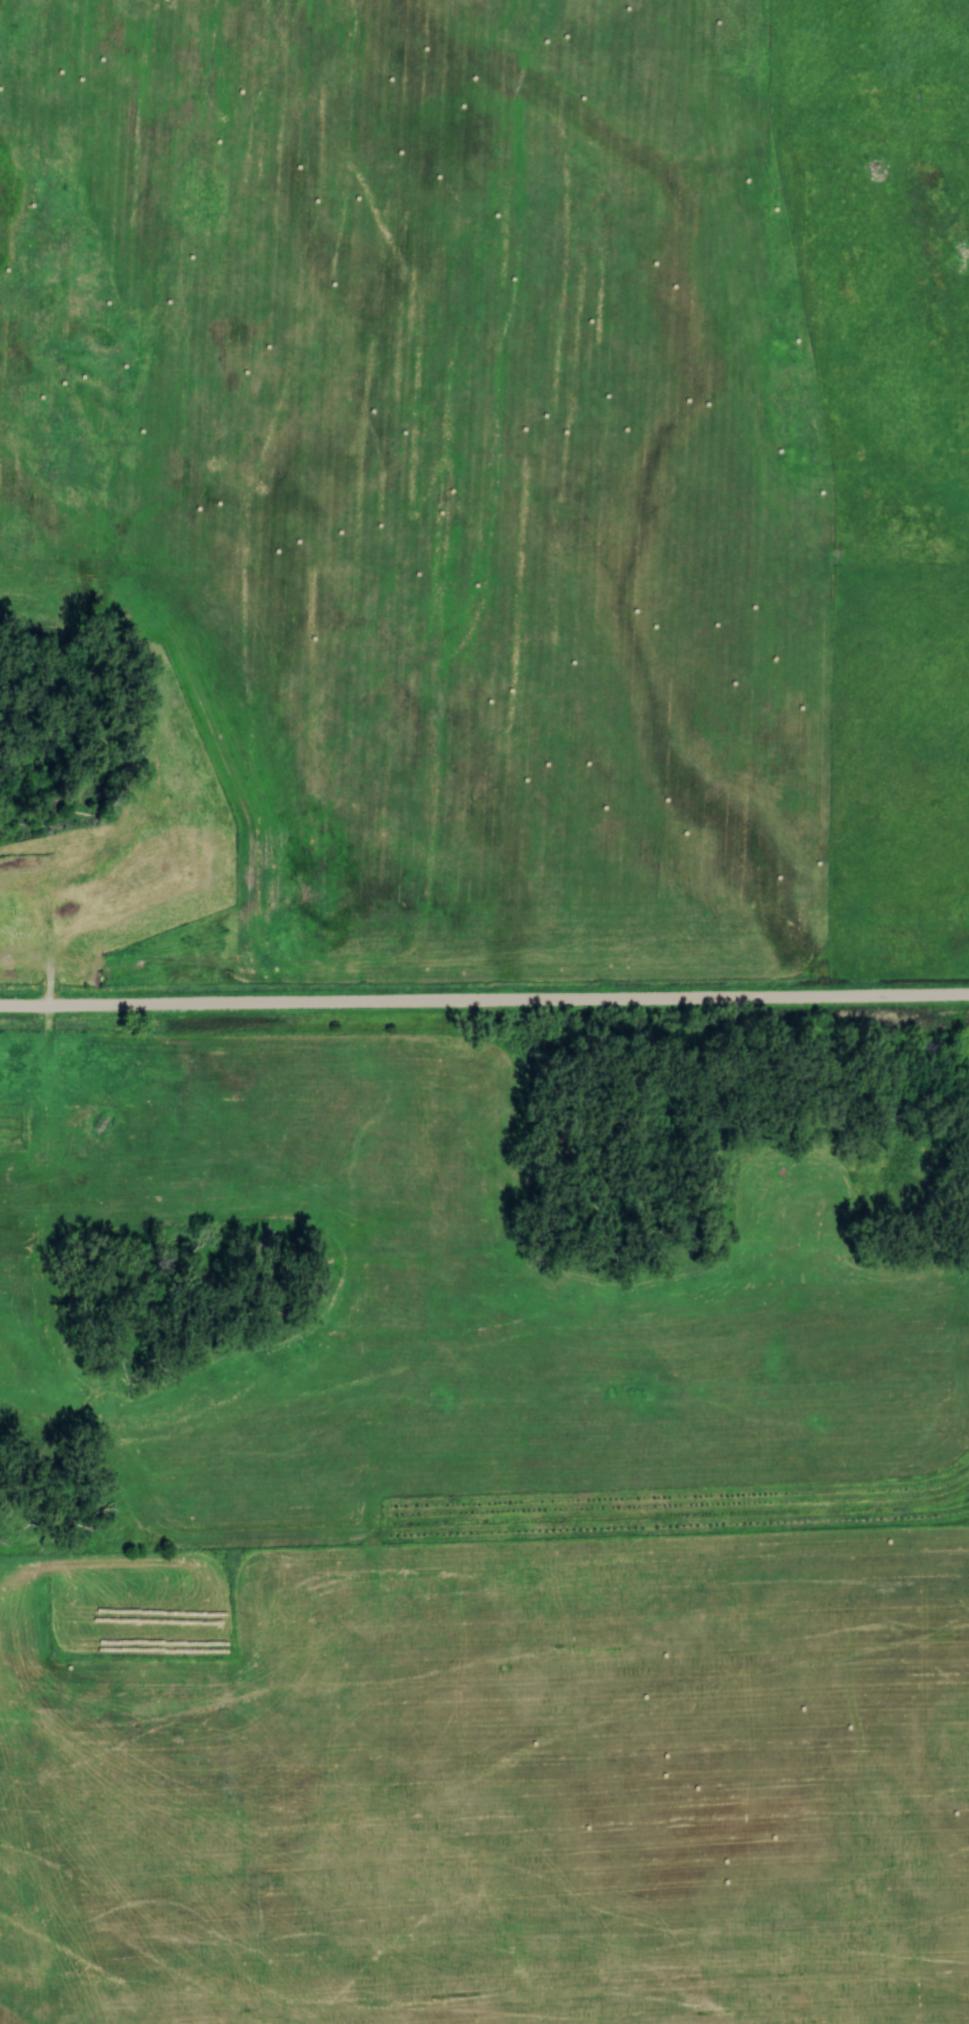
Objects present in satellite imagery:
road: (484, 1006)

